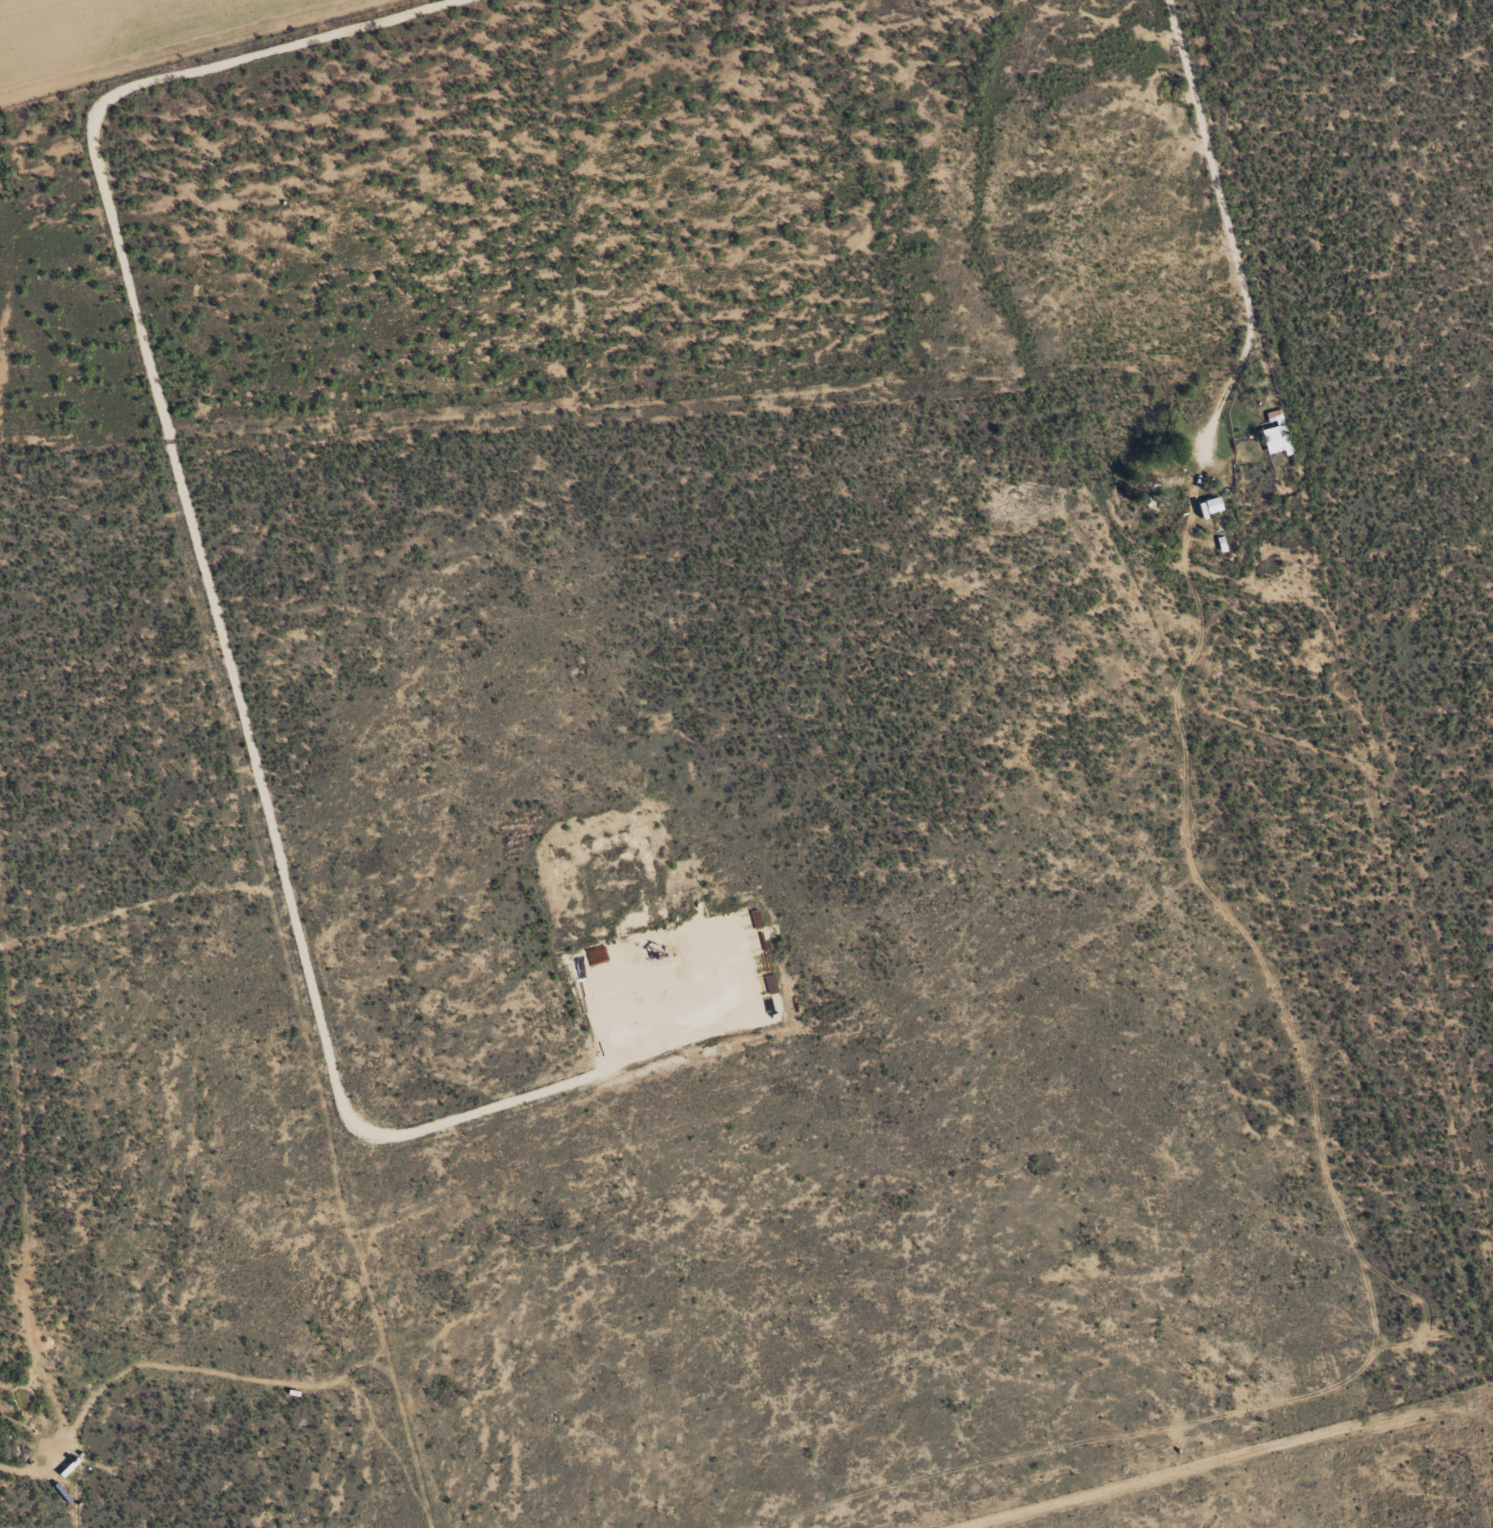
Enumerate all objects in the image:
road: (1253, 305)
building: (1274, 433)
building: (1211, 504)

